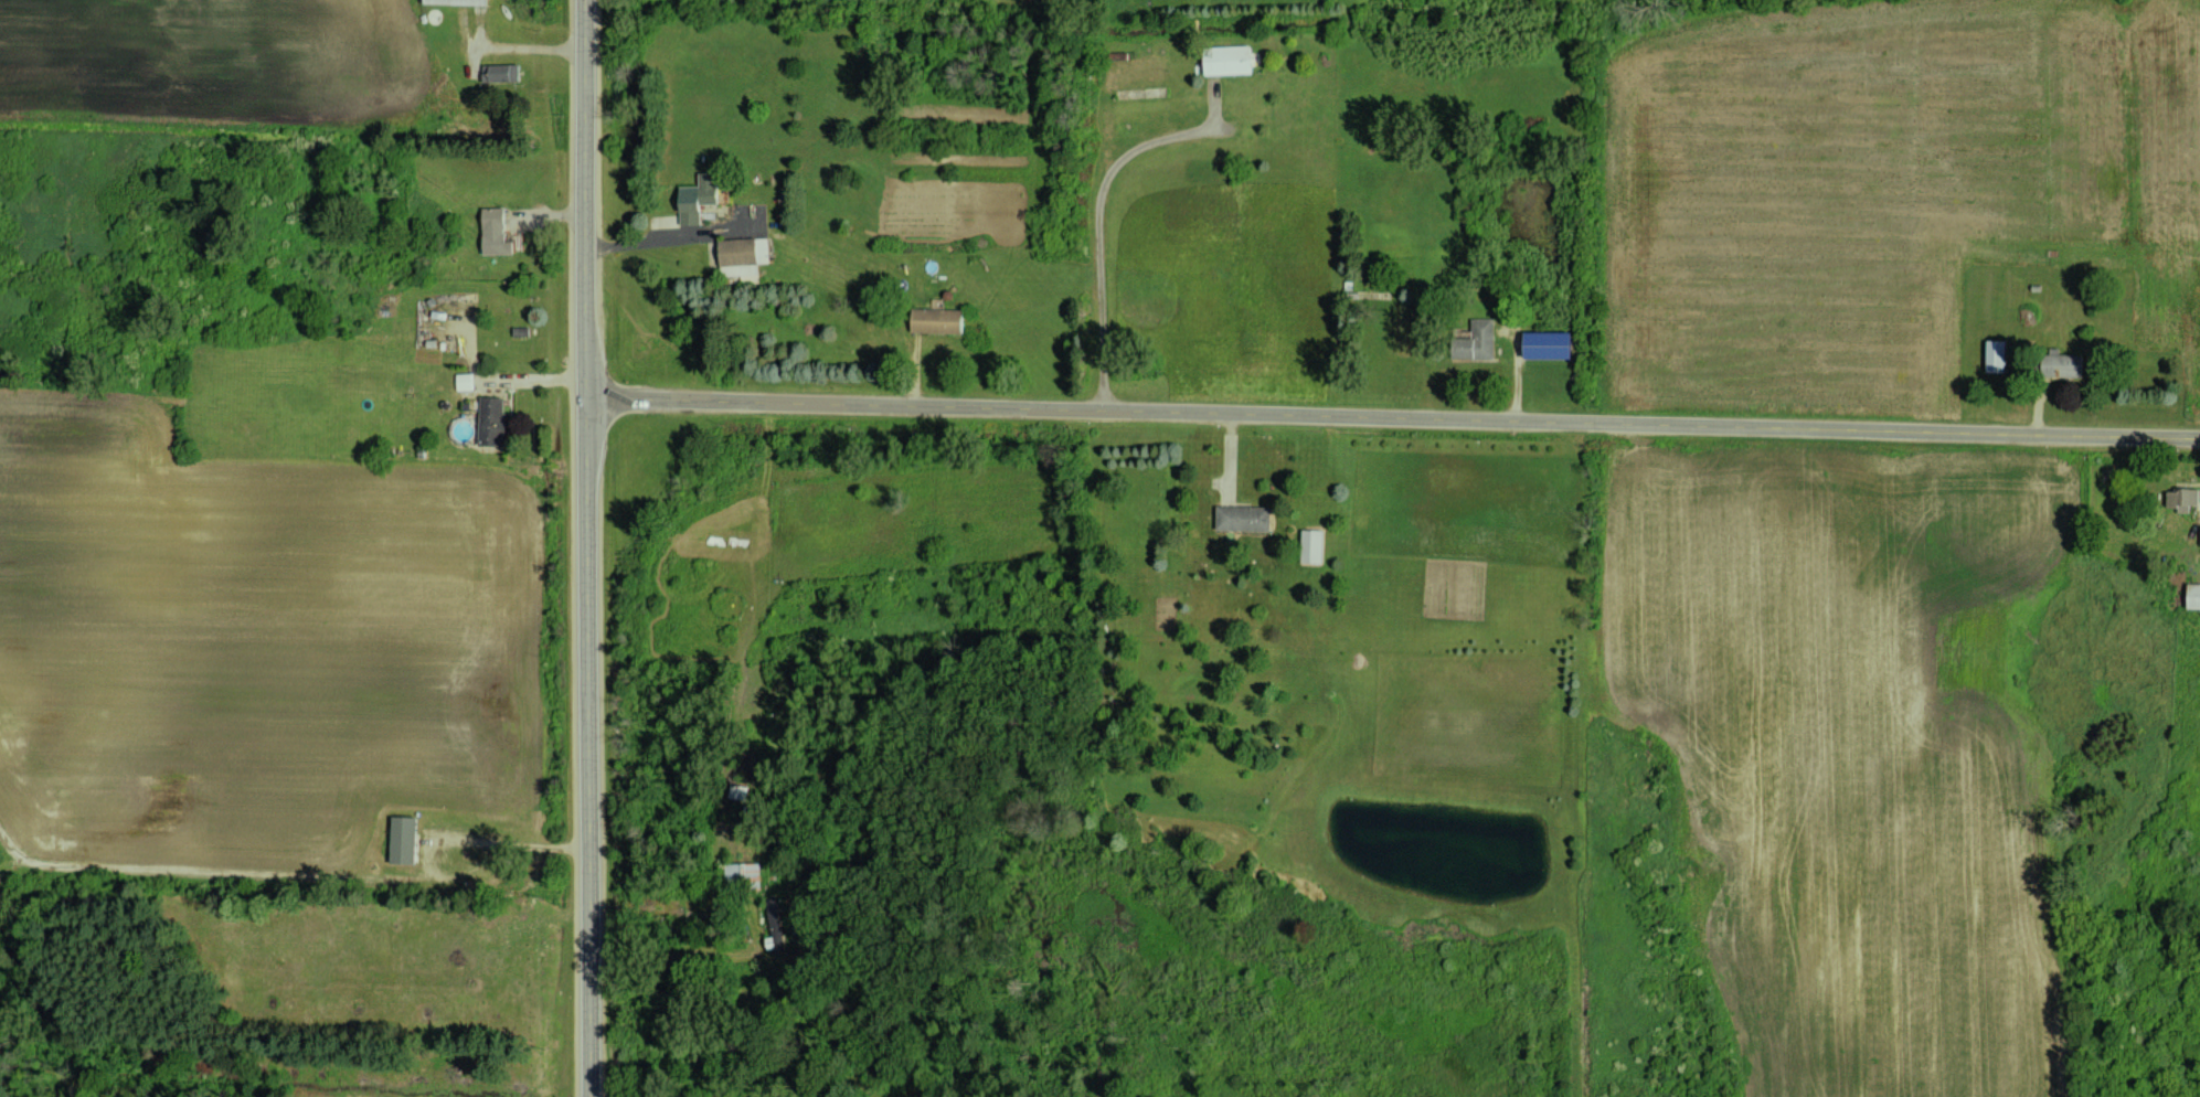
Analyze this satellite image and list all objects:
building: (460, 1)
building: (1227, 60)
building: (500, 72)
building: (699, 198)
building: (496, 232)
road: (663, 236)
building: (742, 256)
building: (938, 320)
building: (1477, 340)
building: (1550, 343)
building: (1997, 355)
building: (465, 381)
road: (1392, 415)
building: (493, 419)
building: (2183, 498)
building: (1244, 518)
building: (1312, 545)
road: (585, 548)
building: (2194, 595)
building: (404, 839)
building: (732, 874)

